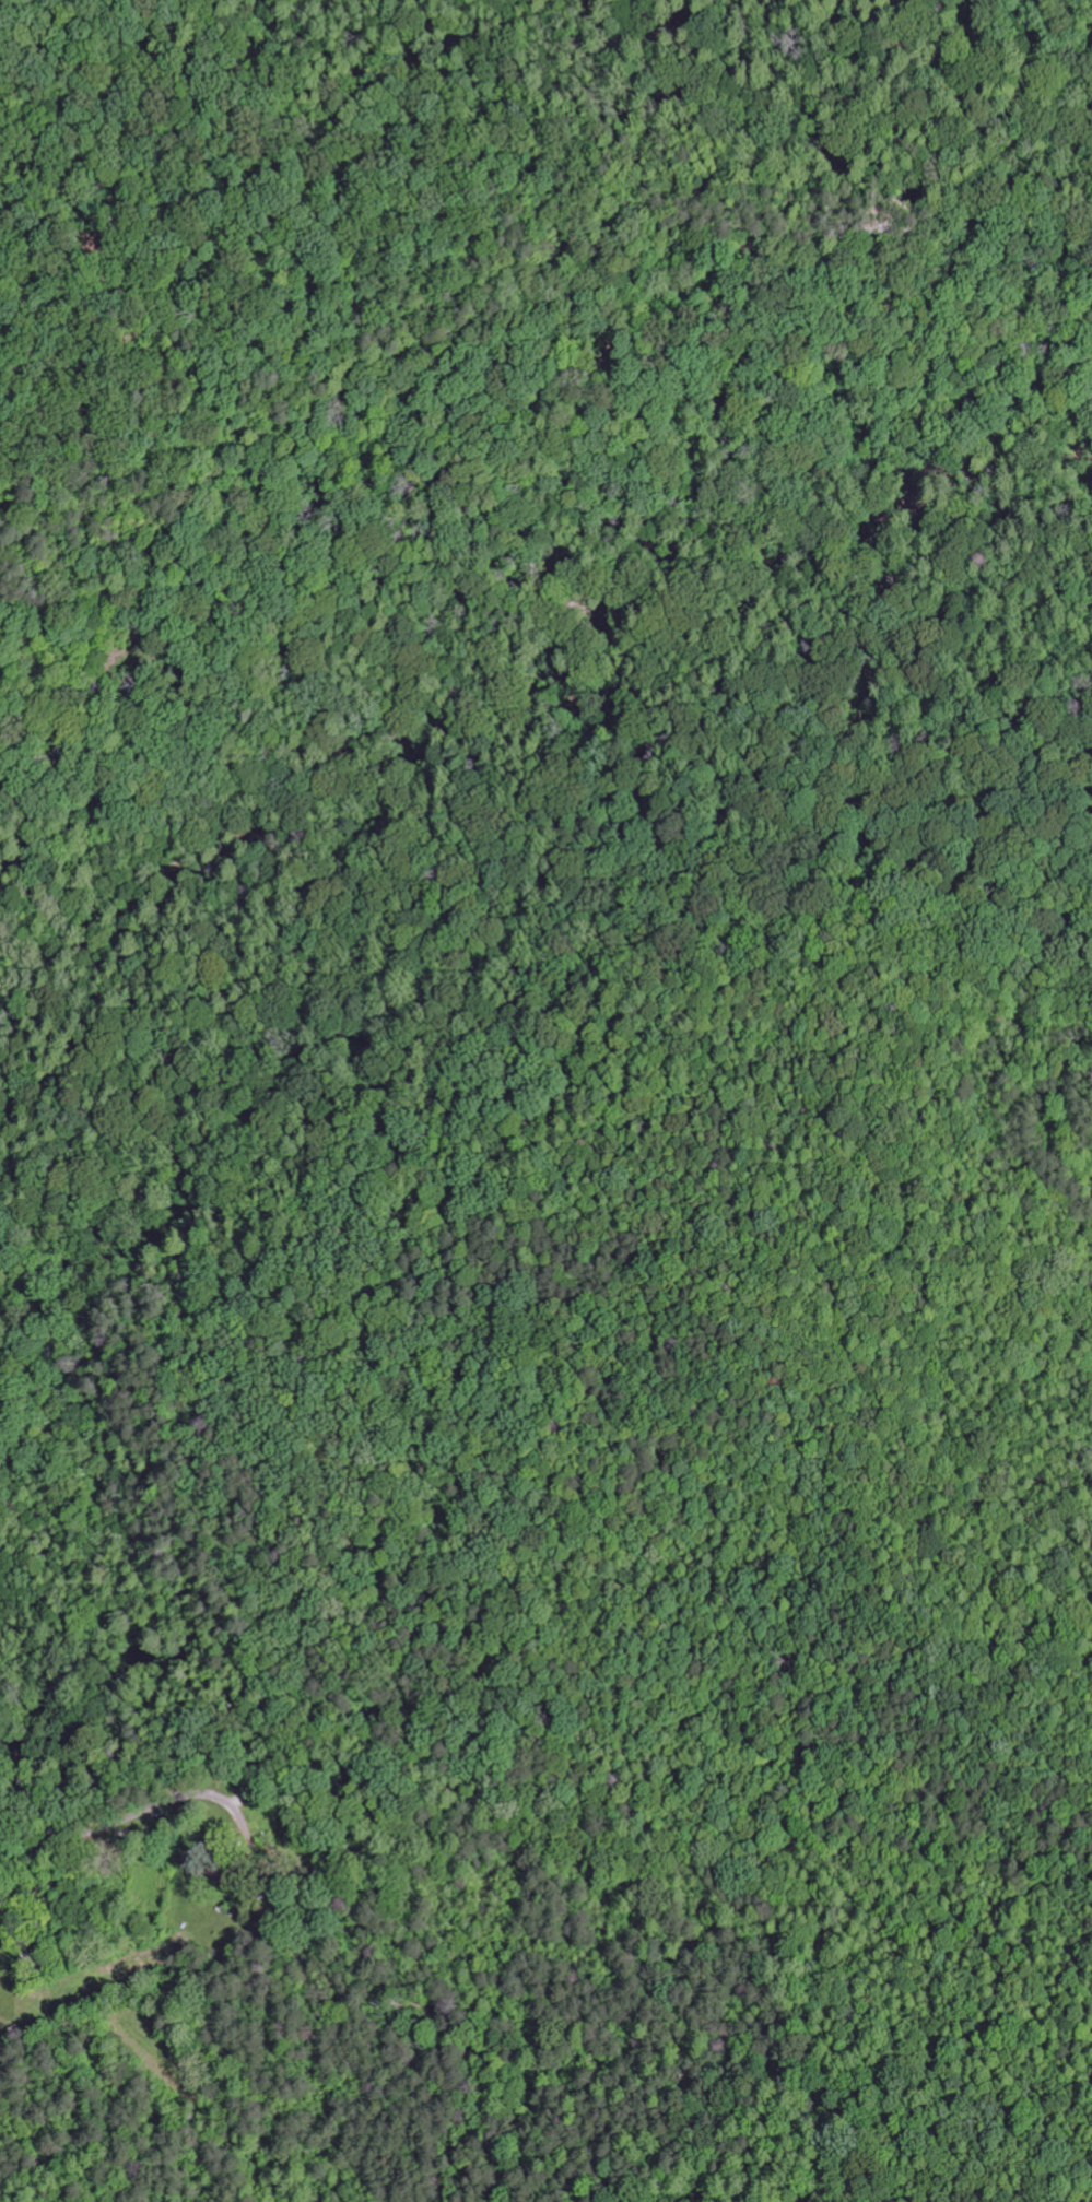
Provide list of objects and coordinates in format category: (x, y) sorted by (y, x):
road: (115, 1821)

